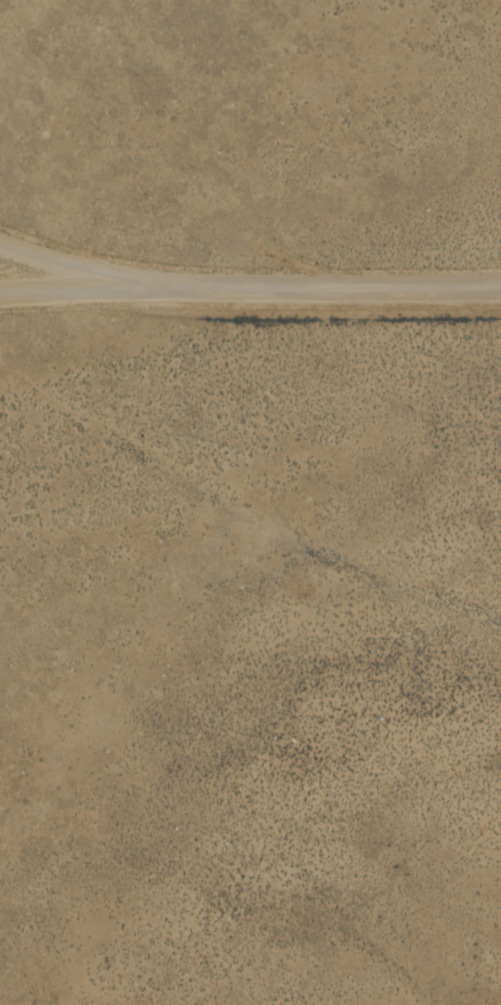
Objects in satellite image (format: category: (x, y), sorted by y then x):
road: (248, 290)

